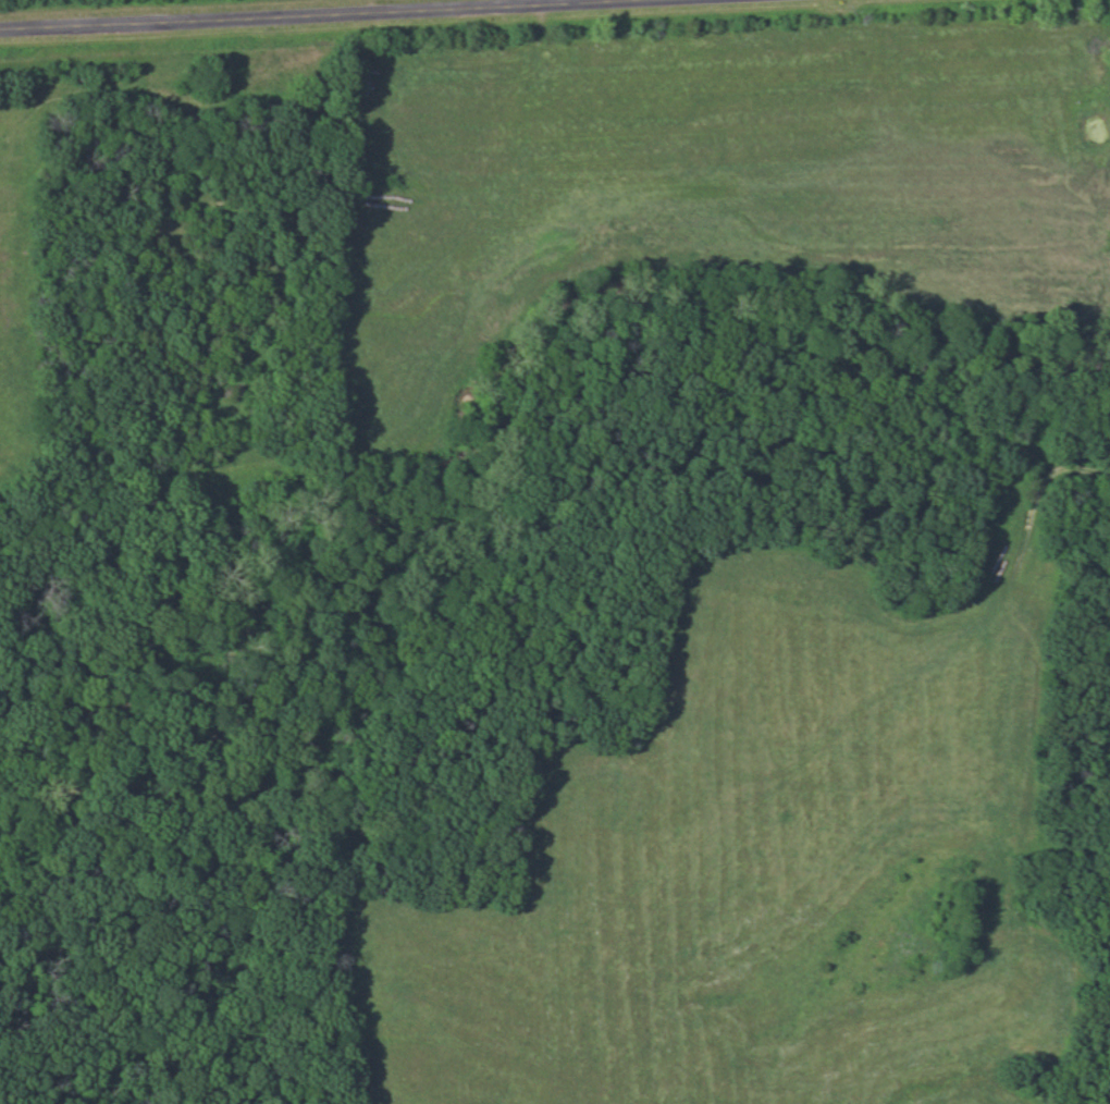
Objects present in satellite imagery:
road: (291, 14)

